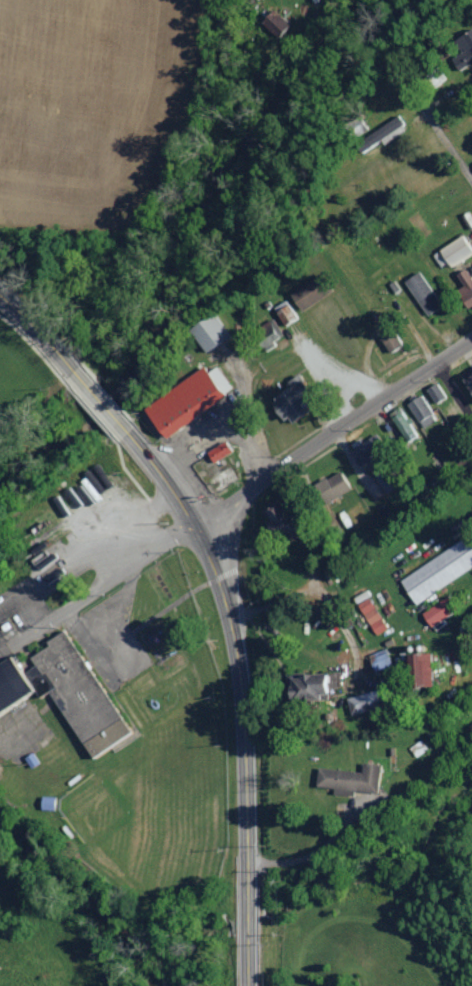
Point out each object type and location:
building: (276, 23)
building: (442, 45)
building: (464, 50)
building: (435, 76)
road: (263, 94)
building: (377, 125)
building: (382, 135)
road: (441, 135)
building: (456, 248)
river: (186, 259)
building: (466, 280)
building: (311, 288)
building: (424, 290)
building: (285, 312)
building: (210, 328)
building: (268, 328)
road: (42, 330)
road: (417, 335)
building: (392, 337)
road: (366, 346)
road: (314, 365)
building: (468, 380)
parking lot: (344, 381)
road: (452, 387)
building: (436, 392)
building: (295, 394)
building: (184, 397)
road: (103, 401)
building: (422, 411)
building: (403, 424)
road: (332, 440)
building: (219, 451)
building: (332, 484)
road: (244, 489)
building: (285, 516)
road: (230, 538)
parking lot: (79, 555)
building: (439, 571)
road: (219, 572)
building: (363, 596)
road: (167, 603)
building: (438, 612)
road: (243, 616)
building: (373, 616)
road: (346, 624)
parking lot: (108, 638)
building: (419, 667)
building: (318, 685)
building: (64, 690)
road: (243, 692)
building: (369, 700)
park: (155, 743)
building: (418, 745)
building: (357, 775)
road: (308, 851)
river: (85, 902)

